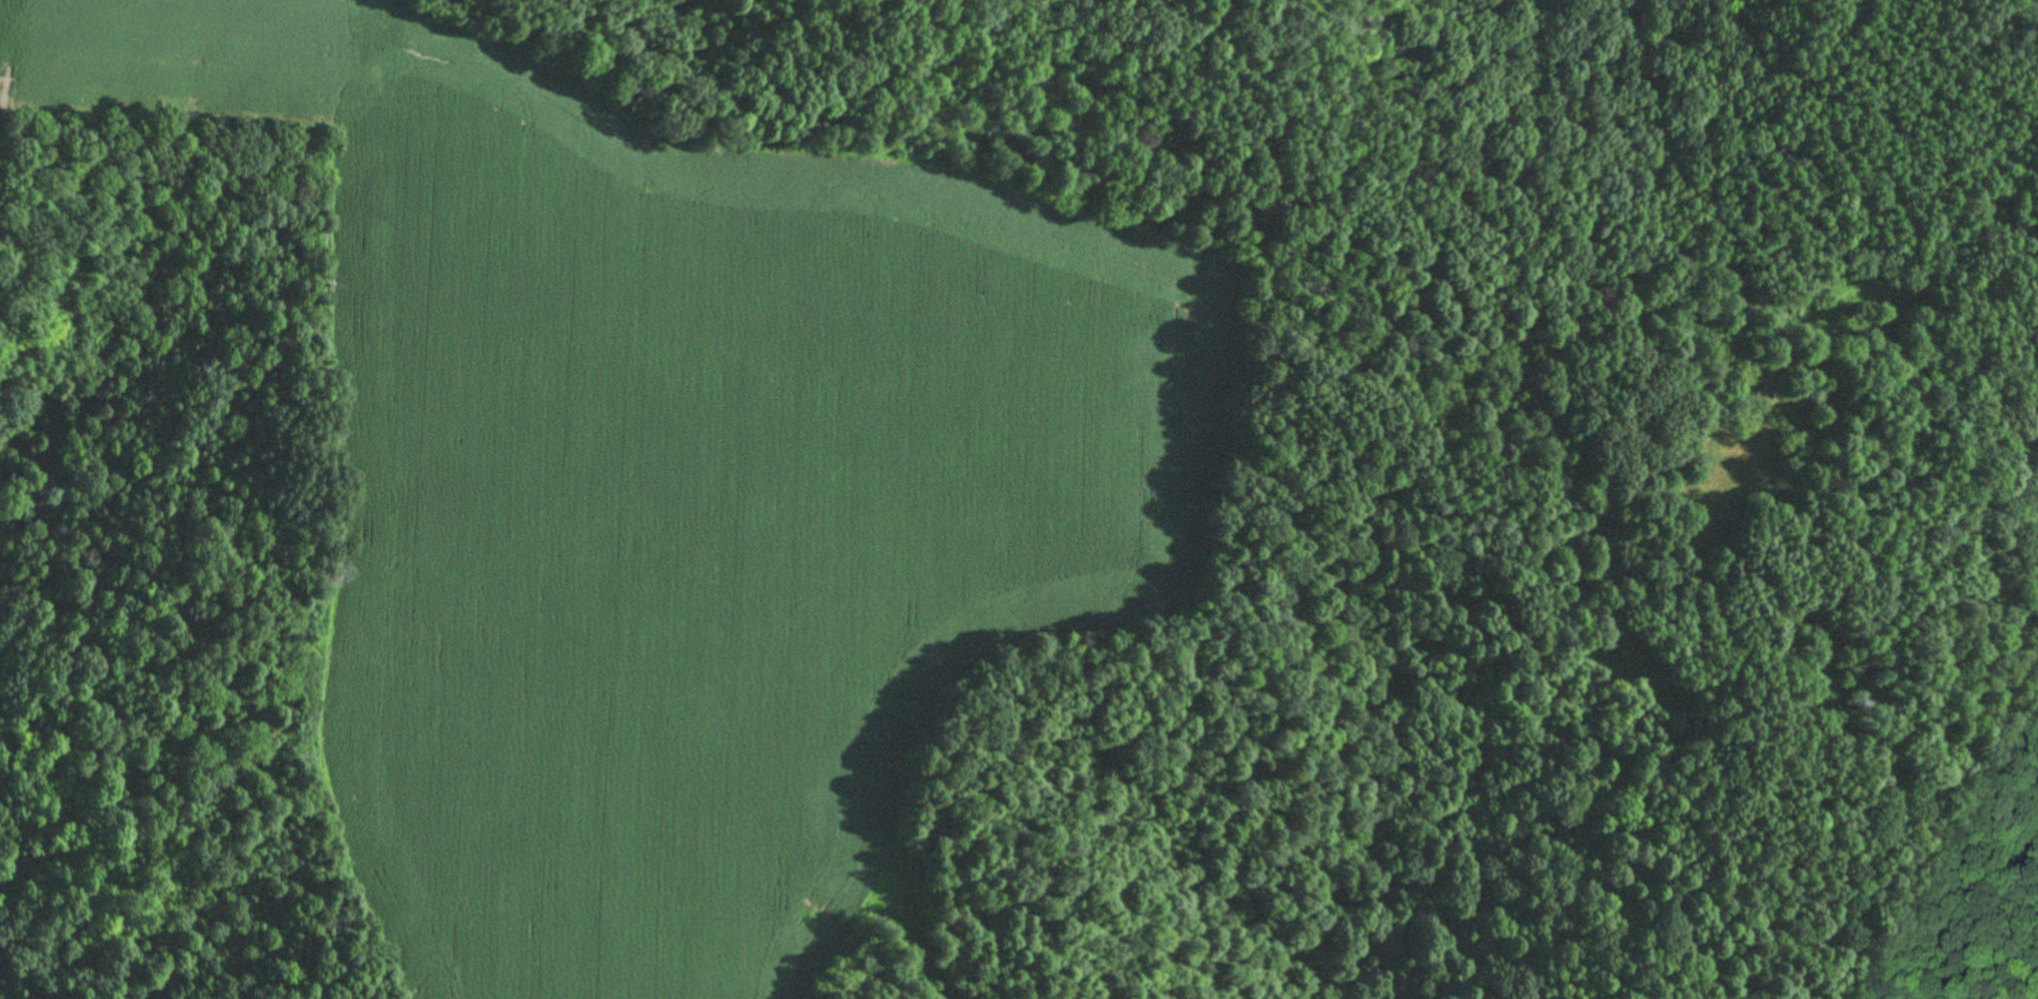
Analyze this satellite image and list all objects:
crop: (670, 473)

